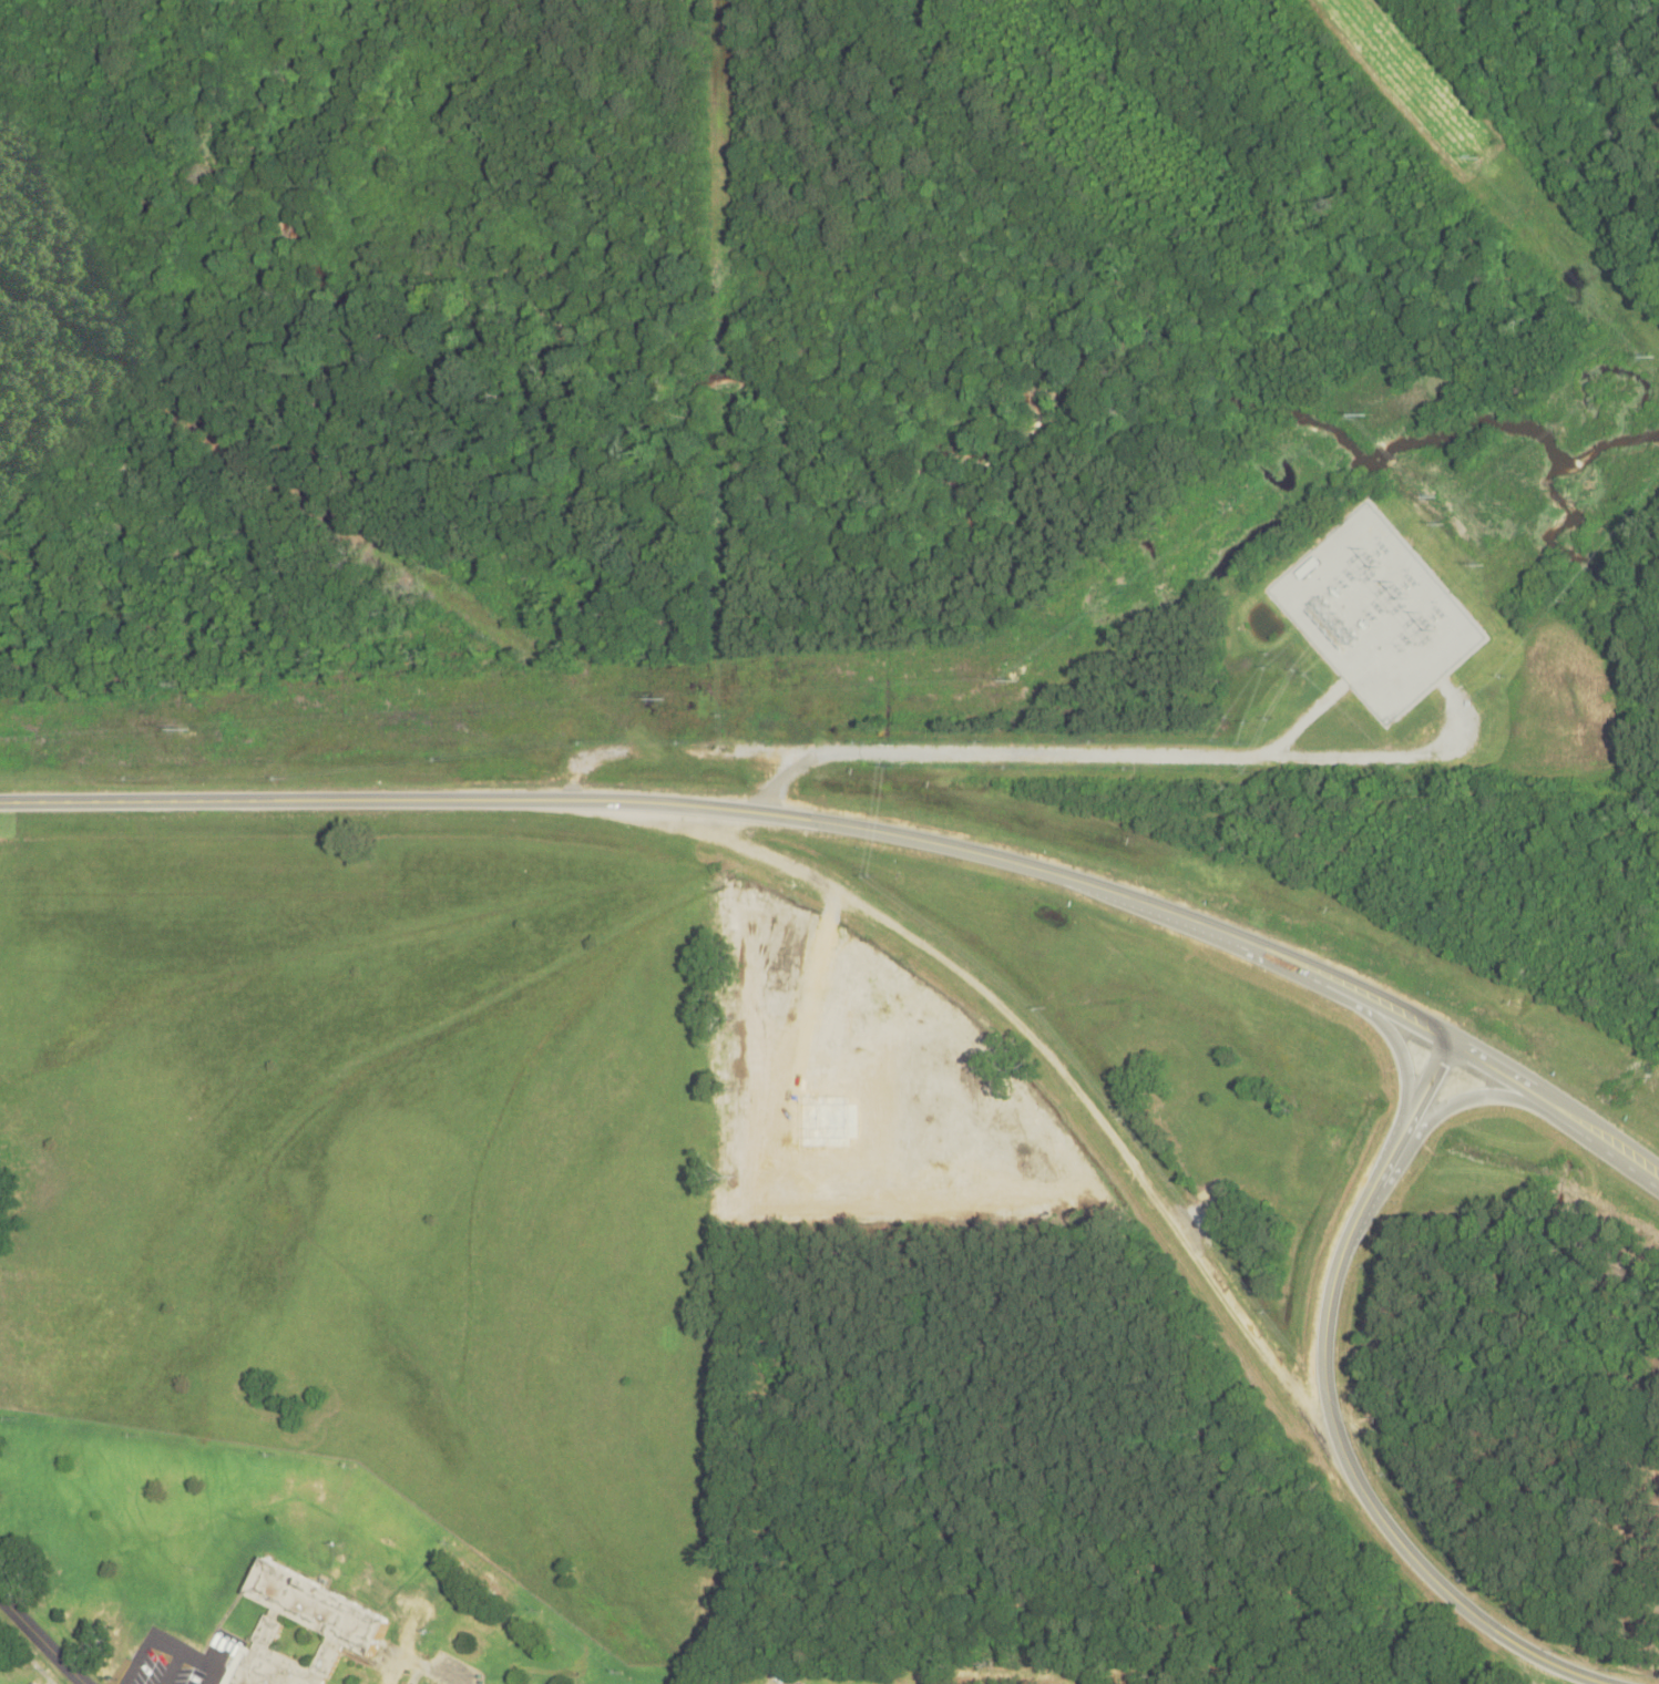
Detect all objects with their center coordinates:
power tower: (1477, 160)
power tower: (1652, 357)
river: (693, 397)
river: (1529, 427)
power tower: (1445, 524)
power tower: (1483, 566)
power substation: (1376, 615)
road: (1086, 753)
road: (868, 825)
road: (1400, 1050)
road: (1468, 1100)
road: (1333, 1416)
building: (304, 1630)
road: (42, 1639)
road: (440, 1674)

